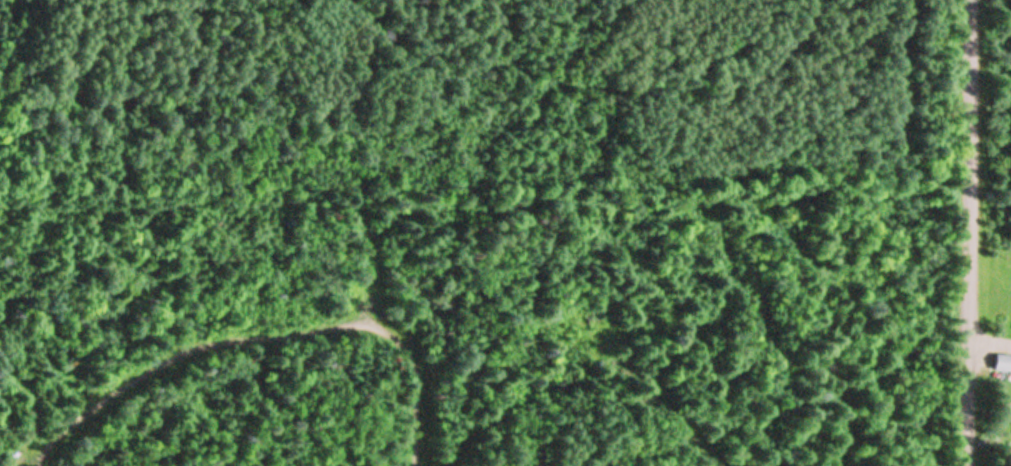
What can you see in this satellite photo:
road: (965, 233)
building: (999, 363)

